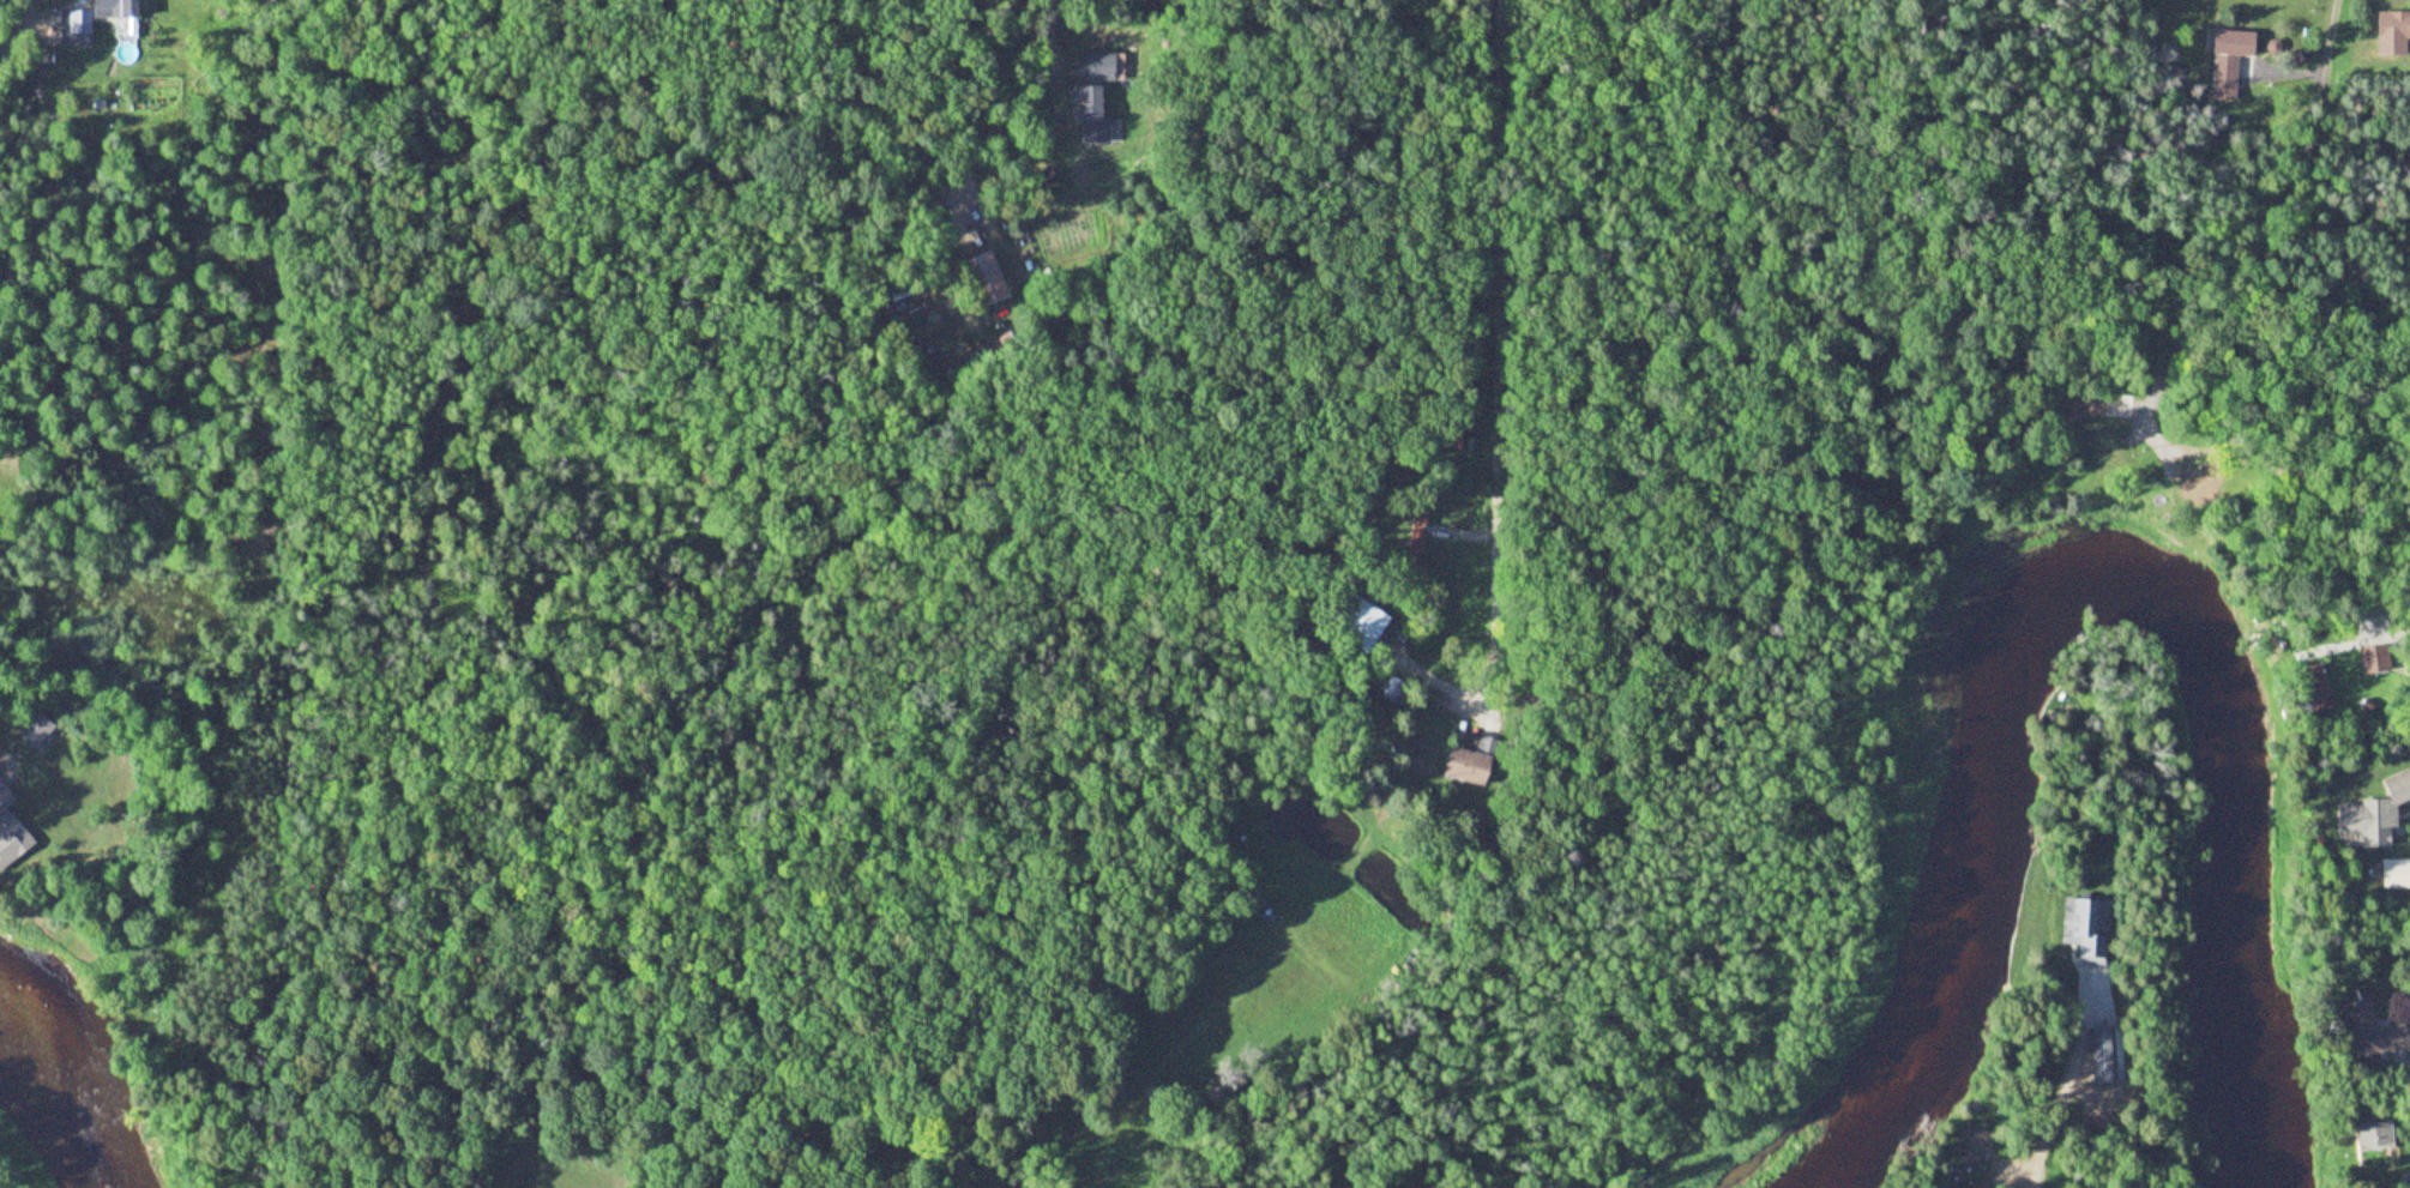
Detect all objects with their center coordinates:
building: (116, 8)
road: (16, 22)
building: (79, 24)
building: (2392, 32)
building: (2229, 61)
building: (1098, 67)
building: (1093, 114)
road: (2270, 193)
building: (992, 281)
building: (1370, 622)
building: (2376, 664)
building: (38, 732)
building: (1474, 768)
river: (2230, 794)
building: (2375, 815)
building: (14, 834)
building: (2396, 875)
river: (1960, 927)
building: (2085, 928)
building: (2374, 1031)
river: (60, 1092)
building: (2374, 1135)

